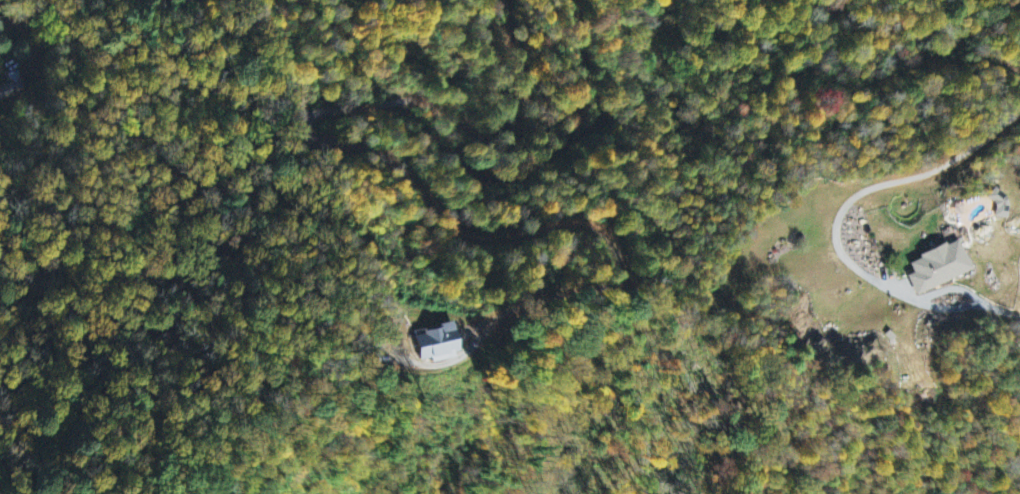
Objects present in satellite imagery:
road: (908, 184)
building: (937, 267)
building: (433, 345)

